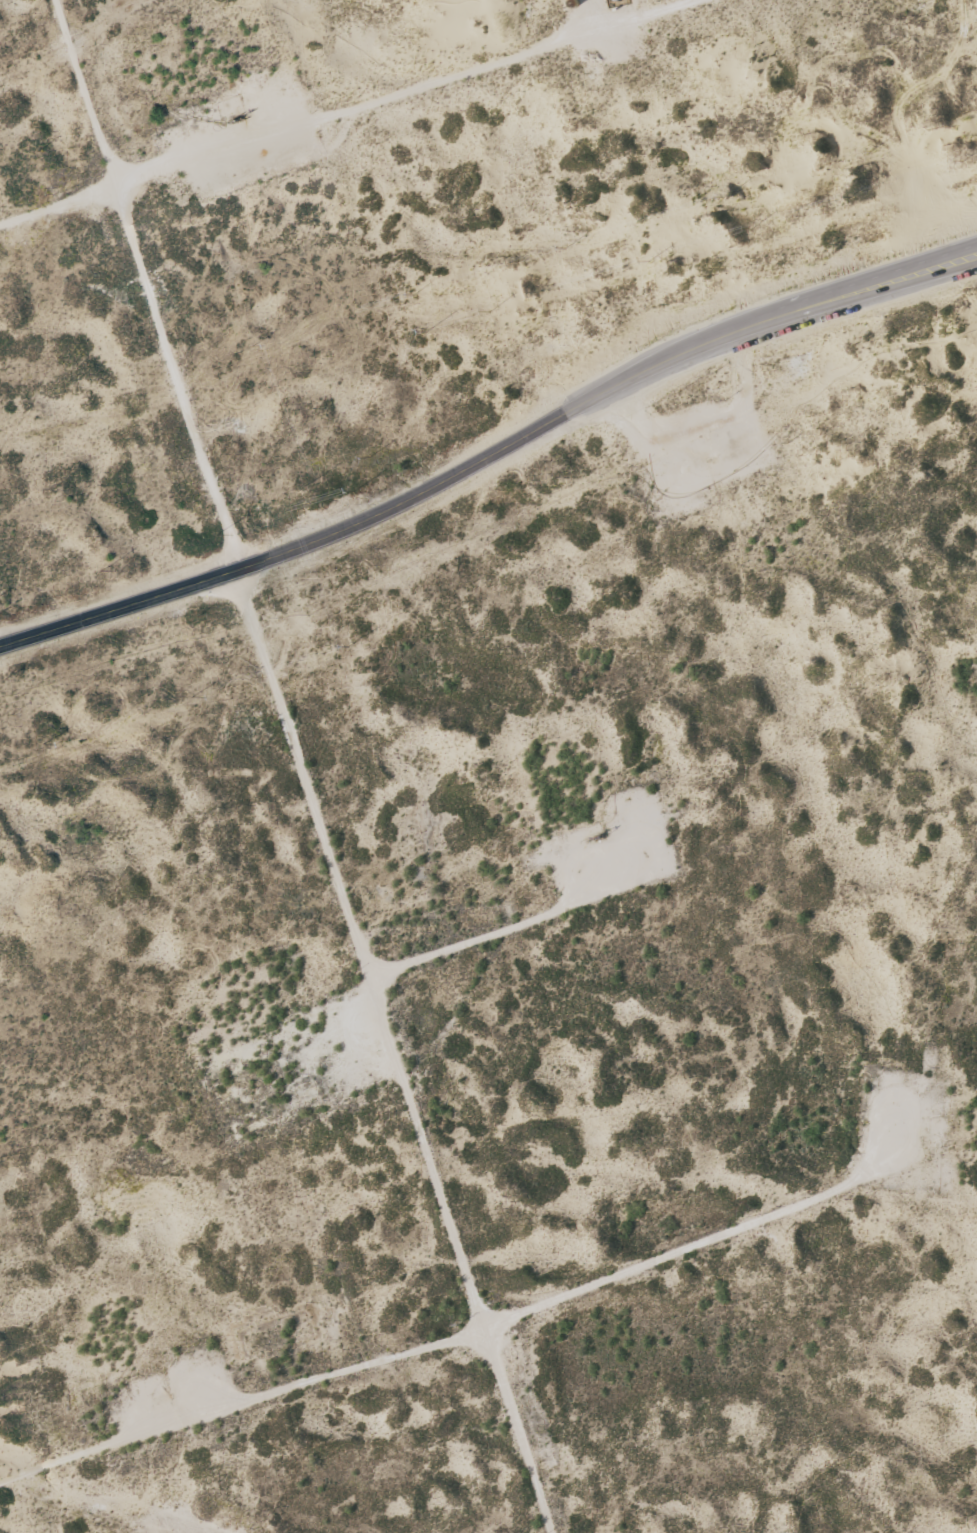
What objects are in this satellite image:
road: (595, 16)
road: (360, 116)
road: (491, 454)
road: (292, 765)
road: (238, 1429)

